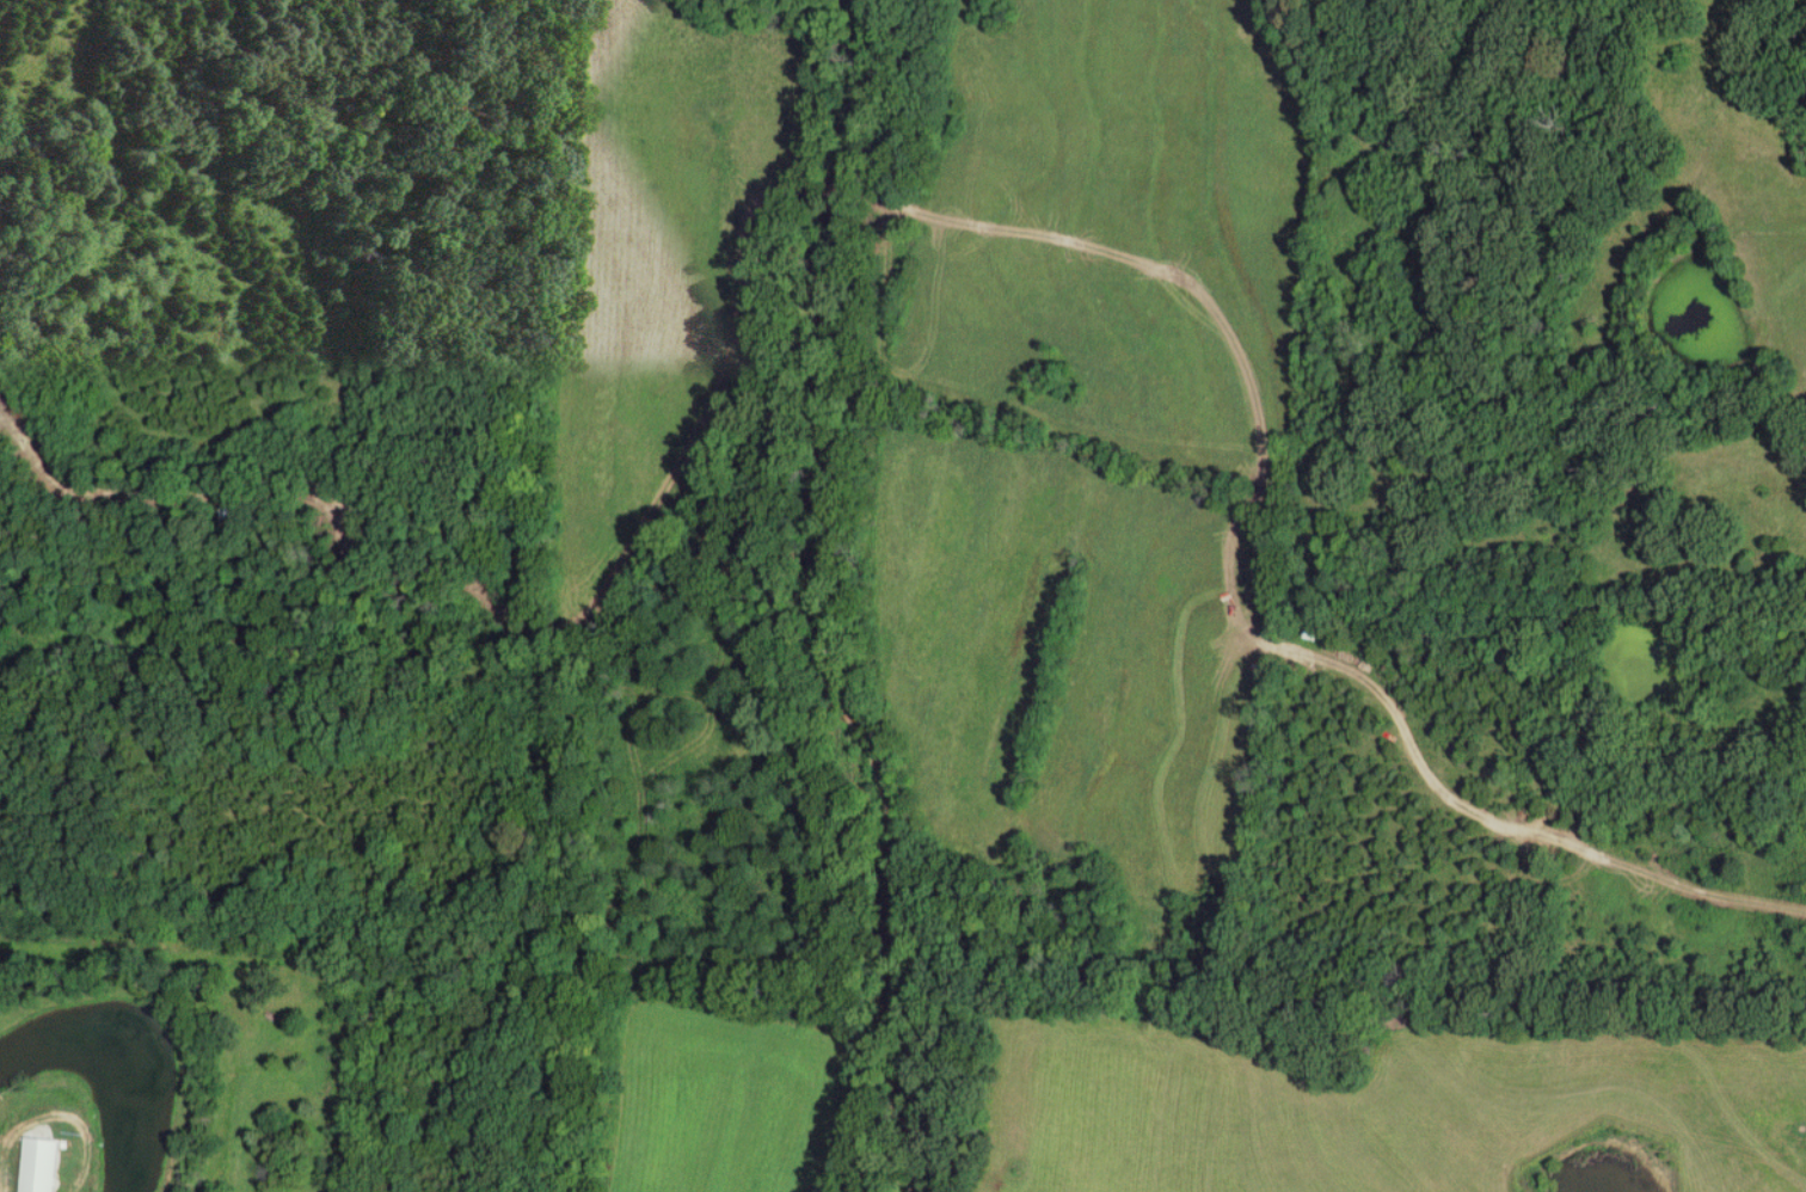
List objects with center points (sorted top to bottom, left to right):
building: (57, 1187)

